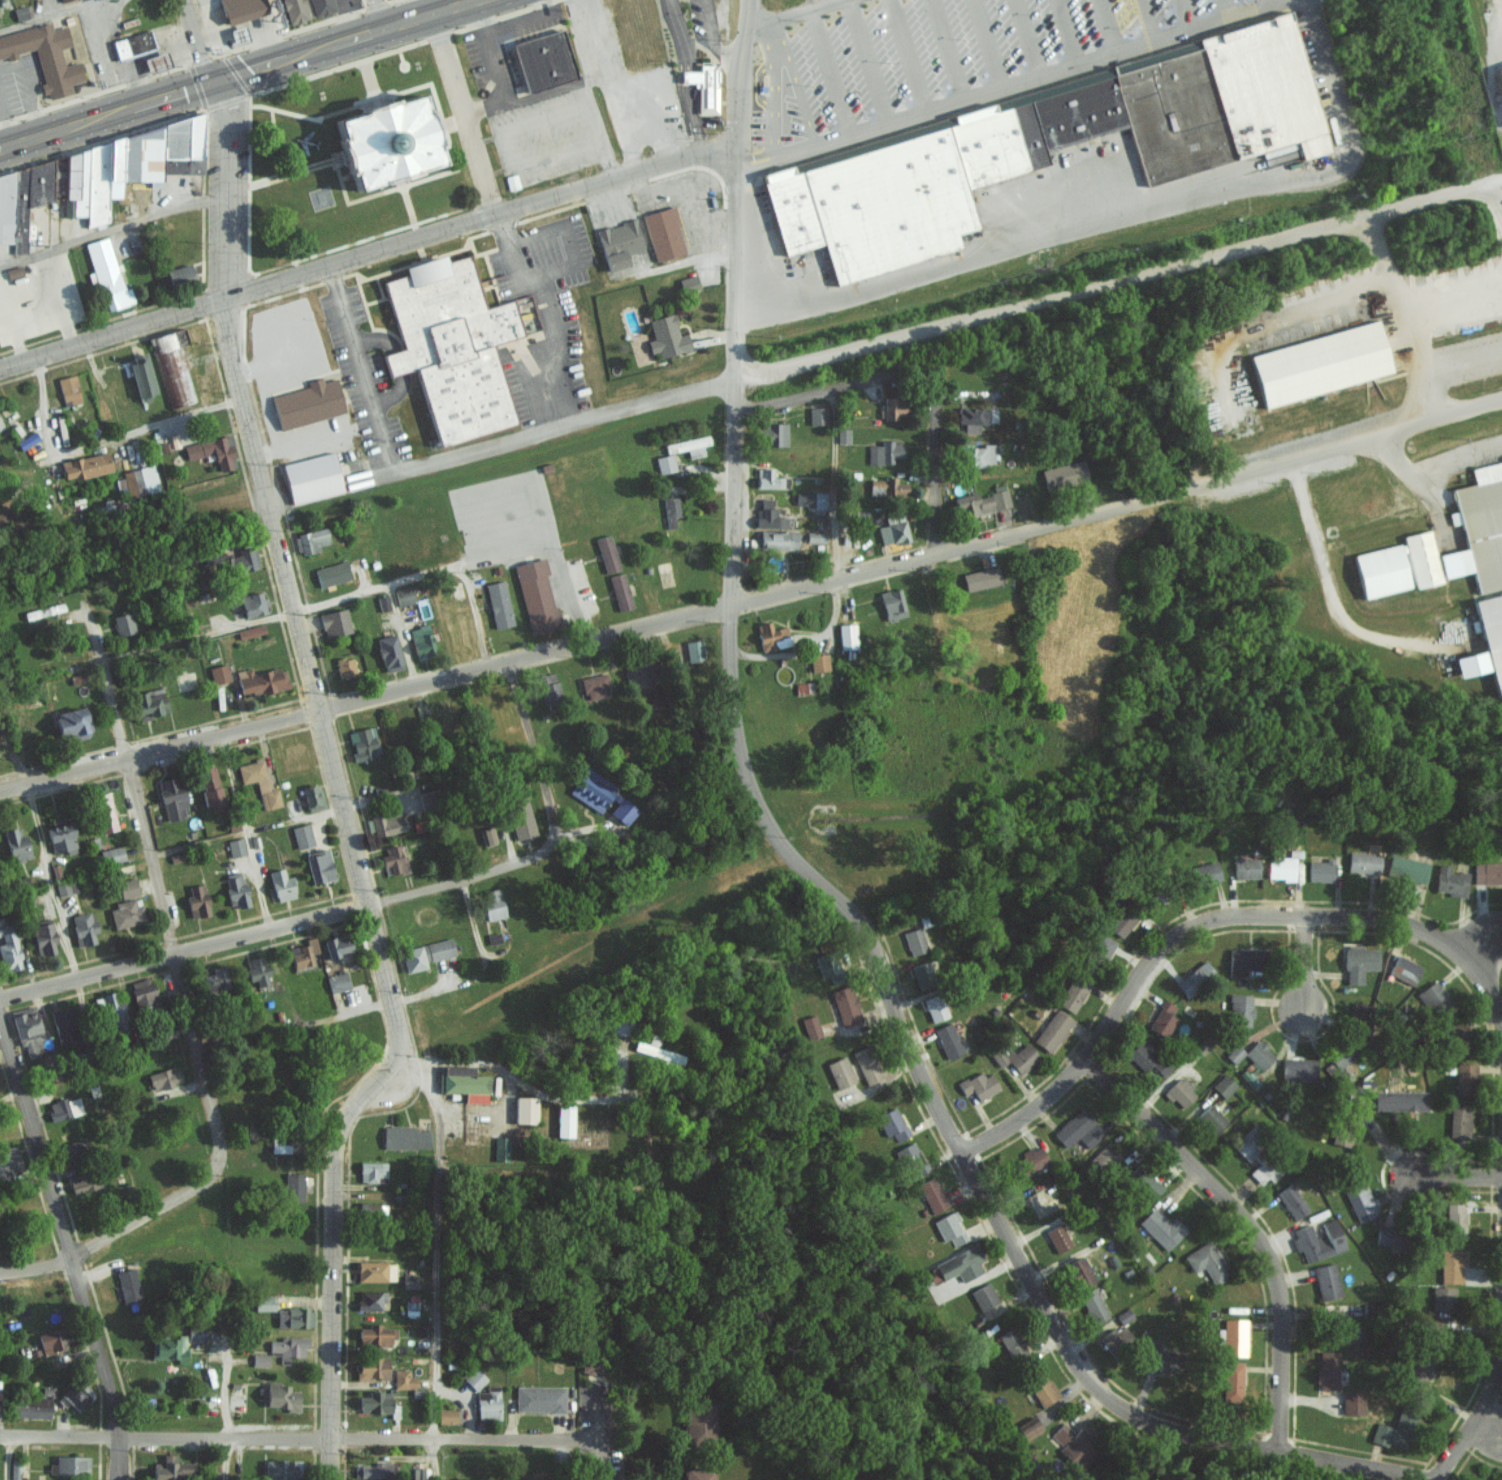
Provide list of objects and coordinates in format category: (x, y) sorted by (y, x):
building: (61, 0)
road: (1285, 1)
road: (1234, 2)
building: (322, 6)
building: (241, 9)
road: (1183, 9)
building: (295, 10)
road: (377, 12)
building: (19, 13)
road: (1147, 15)
road: (54, 16)
road: (792, 16)
road: (1105, 21)
road: (1064, 27)
road: (1025, 32)
building: (237, 34)
road: (982, 38)
road: (199, 39)
building: (132, 44)
road: (946, 44)
road: (905, 49)
building: (44, 55)
building: (542, 60)
building: (155, 62)
road: (827, 67)
building: (1500, 68)
road: (233, 71)
road: (994, 77)
road: (770, 84)
building: (704, 85)
road: (797, 86)
road: (466, 114)
building: (398, 144)
building: (930, 152)
building: (120, 166)
building: (511, 181)
building: (20, 206)
road: (1127, 214)
road: (111, 229)
building: (664, 233)
building: (619, 243)
road: (368, 258)
building: (178, 273)
building: (106, 274)
building: (689, 283)
road: (737, 304)
building: (666, 336)
building: (454, 344)
building: (1321, 363)
building: (172, 367)
building: (140, 375)
road: (841, 386)
building: (68, 389)
building: (307, 403)
building: (893, 408)
building: (817, 415)
building: (975, 417)
building: (0, 424)
building: (772, 433)
building: (842, 435)
building: (689, 446)
building: (212, 451)
building: (884, 451)
road: (462, 455)
building: (978, 456)
building: (665, 463)
building: (84, 465)
road: (1431, 465)
building: (1063, 474)
building: (311, 477)
building: (767, 478)
building: (136, 481)
road: (833, 482)
building: (886, 486)
building: (810, 498)
building: (981, 503)
road: (1117, 507)
building: (671, 510)
building: (768, 515)
building: (1478, 528)
building: (893, 529)
building: (814, 536)
road: (935, 538)
building: (777, 539)
building: (310, 540)
building: (606, 554)
building: (1421, 558)
building: (243, 560)
building: (1381, 570)
building: (331, 573)
building: (980, 578)
building: (456, 588)
building: (1499, 590)
building: (620, 591)
building: (403, 595)
building: (535, 596)
road: (329, 599)
building: (382, 602)
building: (253, 604)
building: (498, 604)
building: (892, 604)
building: (43, 610)
building: (334, 622)
building: (123, 623)
building: (250, 631)
building: (1492, 634)
building: (771, 636)
building: (846, 636)
building: (421, 641)
building: (694, 650)
building: (388, 653)
building: (818, 662)
building: (1472, 664)
building: (345, 666)
building: (218, 673)
building: (637, 676)
building: (260, 680)
building: (548, 686)
building: (595, 686)
road: (365, 699)
building: (148, 703)
building: (71, 723)
building: (362, 743)
road: (532, 752)
building: (258, 782)
building: (209, 785)
road: (335, 786)
building: (592, 789)
building: (312, 797)
building: (171, 798)
building: (427, 800)
building: (623, 811)
building: (105, 812)
building: (520, 817)
building: (384, 824)
road: (244, 830)
road: (244, 832)
building: (60, 835)
building: (302, 835)
building: (487, 836)
building: (15, 844)
building: (235, 847)
building: (111, 855)
building: (392, 861)
building: (1363, 862)
building: (1283, 865)
building: (319, 866)
building: (1246, 868)
building: (1407, 869)
building: (1320, 870)
building: (1487, 872)
building: (1203, 873)
building: (1450, 881)
building: (280, 885)
building: (65, 886)
building: (127, 888)
building: (235, 889)
road: (157, 894)
building: (197, 901)
building: (491, 904)
building: (125, 914)
road: (1276, 915)
building: (1121, 921)
road: (277, 924)
building: (83, 928)
building: (493, 938)
building: (43, 939)
building: (915, 941)
building: (335, 945)
building: (1101, 947)
building: (8, 950)
building: (302, 953)
building: (425, 954)
building: (1243, 961)
road: (1308, 963)
building: (1359, 963)
building: (256, 970)
building: (1405, 970)
building: (925, 973)
building: (1195, 978)
building: (214, 980)
building: (337, 982)
building: (142, 990)
building: (1073, 993)
building: (1435, 1001)
road: (79, 1002)
building: (845, 1006)
building: (110, 1008)
building: (935, 1008)
building: (1240, 1009)
building: (1359, 1014)
building: (1163, 1019)
building: (63, 1025)
building: (811, 1027)
building: (27, 1029)
building: (1052, 1030)
building: (1454, 1032)
building: (948, 1040)
building: (658, 1052)
building: (1235, 1053)
building: (1259, 1055)
building: (1341, 1057)
building: (1022, 1058)
building: (1142, 1058)
building: (867, 1065)
building: (1299, 1069)
building: (840, 1072)
building: (164, 1078)
building: (1466, 1078)
building: (1249, 1079)
building: (463, 1083)
building: (979, 1084)
building: (1223, 1085)
building: (1179, 1094)
building: (1400, 1100)
building: (64, 1108)
building: (525, 1110)
building: (1211, 1118)
building: (564, 1120)
building: (1459, 1122)
building: (892, 1124)
building: (1079, 1129)
building: (405, 1137)
building: (1248, 1143)
building: (279, 1144)
building: (501, 1149)
road: (961, 1155)
building: (912, 1159)
building: (9, 1161)
building: (1030, 1161)
building: (371, 1171)
building: (1264, 1171)
road: (1460, 1176)
building: (83, 1182)
building: (1144, 1183)
building: (294, 1186)
road: (602, 1189)
building: (933, 1195)
road: (1498, 1195)
building: (1291, 1201)
building: (1361, 1203)
building: (374, 1210)
building: (1455, 1221)
building: (950, 1228)
road: (1245, 1228)
building: (1161, 1229)
road: (114, 1232)
building: (1384, 1236)
building: (1058, 1238)
building: (1318, 1240)
road: (67, 1243)
road: (440, 1262)
building: (1207, 1262)
building: (957, 1265)
building: (1450, 1266)
building: (370, 1270)
building: (1079, 1271)
building: (409, 1281)
building: (1326, 1281)
building: (128, 1285)
building: (983, 1295)
building: (371, 1299)
building: (1442, 1299)
building: (263, 1301)
building: (1093, 1305)
building: (410, 1308)
building: (1124, 1315)
building: (293, 1316)
building: (195, 1332)
building: (374, 1334)
building: (1234, 1336)
building: (53, 1338)
building: (1010, 1340)
building: (287, 1346)
building: (168, 1347)
building: (1161, 1357)
building: (259, 1359)
building: (371, 1367)
building: (591, 1367)
building: (1420, 1367)
building: (1327, 1370)
building: (1232, 1375)
building: (403, 1378)
building: (474, 1378)
building: (1041, 1387)
road: (223, 1393)
building: (75, 1394)
building: (281, 1395)
building: (539, 1398)
building: (1352, 1402)
building: (488, 1403)
building: (0, 1406)
building: (31, 1406)
road: (1473, 1412)
building: (447, 1415)
building: (697, 1416)
building: (1028, 1427)
road: (1486, 1428)
building: (1395, 1429)
road: (304, 1437)
building: (1074, 1443)
road: (5, 1457)
road: (226, 1458)
building: (71, 1464)
building: (170, 1468)
building: (14, 1469)
building: (279, 1469)
building: (370, 1470)
building: (696, 1473)
building: (537, 1478)

